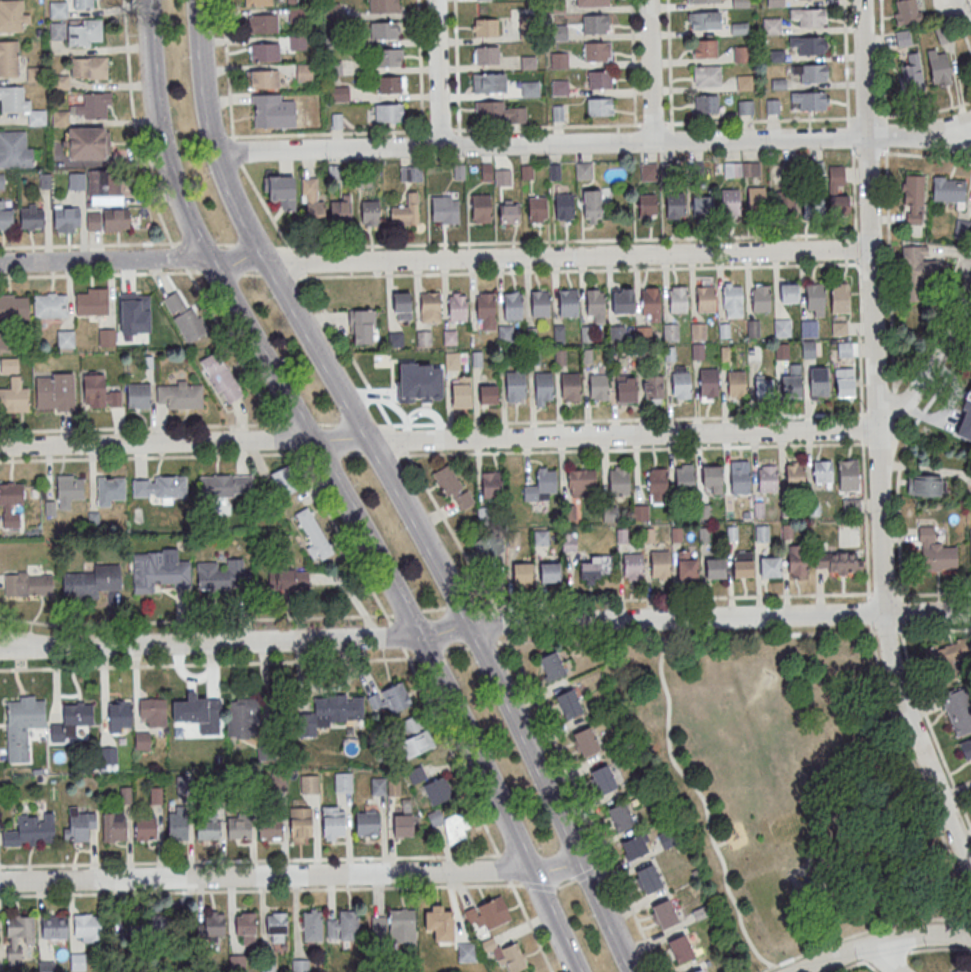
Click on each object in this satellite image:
building: (482, 0)
building: (703, 1)
road: (969, 2)
building: (257, 3)
building: (591, 3)
building: (775, 3)
building: (82, 5)
road: (958, 5)
building: (384, 6)
building: (906, 11)
building: (11, 16)
building: (808, 16)
building: (703, 20)
building: (262, 23)
building: (595, 23)
building: (771, 25)
building: (485, 27)
road: (960, 27)
building: (739, 28)
building: (383, 31)
building: (85, 33)
building: (903, 37)
building: (297, 42)
building: (808, 44)
building: (704, 48)
building: (263, 51)
building: (595, 51)
building: (741, 53)
building: (486, 54)
building: (389, 58)
building: (8, 59)
building: (558, 59)
road: (882, 62)
road: (846, 63)
road: (632, 65)
road: (670, 65)
building: (938, 66)
building: (88, 68)
road: (421, 68)
road: (457, 68)
road: (227, 70)
road: (650, 70)
building: (303, 72)
building: (810, 72)
road: (435, 73)
building: (32, 74)
building: (910, 74)
building: (705, 75)
building: (263, 78)
building: (600, 79)
building: (489, 82)
building: (744, 82)
building: (59, 83)
building: (389, 85)
building: (558, 87)
building: (530, 88)
building: (810, 99)
building: (17, 104)
building: (705, 104)
building: (92, 106)
building: (599, 106)
building: (772, 106)
building: (745, 107)
building: (265, 110)
road: (925, 112)
building: (388, 113)
building: (498, 113)
road: (867, 118)
road: (542, 128)
road: (886, 136)
road: (635, 137)
road: (672, 137)
road: (850, 137)
road: (221, 139)
road: (931, 140)
road: (460, 141)
road: (424, 142)
building: (86, 143)
road: (594, 143)
building: (14, 150)
road: (854, 152)
road: (237, 153)
road: (868, 153)
road: (925, 155)
building: (740, 169)
building: (814, 169)
building: (583, 170)
building: (459, 171)
building: (486, 171)
building: (648, 171)
building: (694, 171)
building: (410, 173)
building: (502, 177)
building: (1, 181)
building: (75, 181)
building: (105, 184)
building: (282, 188)
building: (948, 189)
building: (836, 192)
road: (854, 192)
building: (912, 198)
building: (757, 199)
building: (730, 201)
building: (784, 202)
building: (813, 204)
building: (564, 205)
building: (647, 205)
building: (675, 205)
building: (702, 205)
building: (480, 206)
building: (591, 206)
building: (444, 208)
building: (537, 208)
building: (405, 211)
building: (509, 211)
building: (340, 212)
building: (370, 212)
building: (315, 213)
building: (5, 214)
building: (31, 216)
building: (66, 218)
building: (107, 220)
road: (164, 228)
road: (865, 233)
road: (429, 243)
road: (856, 247)
road: (436, 259)
road: (866, 263)
road: (889, 271)
road: (429, 273)
building: (918, 274)
building: (789, 291)
building: (815, 295)
building: (732, 297)
building: (705, 298)
building: (760, 298)
building: (839, 298)
building: (624, 299)
building: (678, 299)
building: (650, 300)
building: (595, 301)
building: (568, 302)
building: (402, 303)
building: (540, 303)
building: (430, 304)
building: (91, 305)
building: (50, 306)
building: (512, 306)
building: (457, 307)
building: (14, 308)
building: (486, 309)
building: (184, 318)
road: (935, 323)
building: (362, 326)
building: (752, 327)
building: (782, 327)
building: (807, 327)
building: (839, 328)
building: (696, 330)
building: (724, 330)
building: (669, 331)
building: (558, 332)
building: (505, 333)
building: (586, 333)
building: (615, 333)
building: (531, 334)
building: (423, 337)
building: (448, 337)
building: (107, 338)
road: (859, 338)
building: (395, 339)
building: (65, 340)
building: (808, 349)
building: (844, 349)
building: (781, 350)
building: (697, 351)
building: (727, 353)
building: (560, 356)
building: (587, 356)
building: (504, 357)
building: (533, 357)
road: (934, 358)
building: (423, 359)
building: (477, 359)
building: (452, 360)
building: (7, 366)
building: (221, 378)
building: (708, 380)
building: (516, 382)
building: (819, 382)
building: (844, 382)
building: (736, 383)
building: (570, 384)
building: (681, 384)
building: (543, 385)
building: (598, 385)
building: (791, 386)
building: (763, 387)
building: (651, 388)
road: (372, 389)
building: (625, 389)
building: (434, 390)
building: (54, 392)
building: (98, 393)
building: (488, 393)
building: (461, 394)
building: (138, 396)
building: (179, 396)
building: (14, 397)
building: (967, 402)
road: (894, 403)
road: (873, 412)
road: (622, 419)
road: (303, 423)
road: (327, 423)
road: (357, 423)
road: (143, 426)
road: (861, 428)
road: (293, 437)
road: (440, 439)
road: (882, 440)
road: (874, 442)
road: (633, 448)
road: (326, 453)
road: (353, 453)
road: (381, 454)
road: (153, 457)
road: (902, 460)
building: (822, 472)
building: (794, 473)
building: (847, 474)
building: (683, 475)
building: (711, 477)
building: (767, 477)
building: (739, 478)
building: (283, 481)
building: (581, 483)
building: (617, 483)
building: (490, 485)
building: (657, 485)
building: (926, 485)
building: (225, 486)
building: (451, 486)
building: (541, 486)
building: (159, 487)
road: (396, 490)
building: (68, 491)
building: (109, 491)
road: (337, 491)
building: (10, 504)
building: (640, 513)
building: (569, 514)
building: (312, 534)
building: (761, 534)
road: (341, 537)
building: (540, 537)
building: (568, 542)
building: (488, 545)
building: (970, 550)
building: (935, 553)
building: (797, 560)
building: (837, 561)
building: (659, 564)
building: (742, 564)
building: (686, 565)
building: (632, 566)
building: (714, 566)
building: (769, 566)
building: (595, 567)
building: (159, 569)
building: (549, 572)
building: (522, 573)
building: (220, 575)
building: (288, 580)
building: (91, 582)
building: (28, 584)
road: (930, 592)
road: (881, 593)
road: (673, 599)
road: (459, 606)
road: (433, 608)
road: (407, 612)
road: (902, 614)
road: (196, 621)
road: (502, 624)
road: (485, 628)
road: (670, 628)
road: (935, 629)
road: (888, 630)
road: (396, 634)
road: (687, 637)
road: (481, 643)
road: (456, 650)
road: (431, 656)
building: (944, 659)
road: (208, 664)
building: (551, 664)
road: (881, 681)
building: (390, 698)
building: (568, 702)
building: (335, 709)
building: (957, 709)
building: (196, 710)
building: (152, 711)
building: (119, 716)
building: (241, 718)
building: (72, 720)
building: (410, 724)
building: (22, 726)
road: (931, 727)
building: (142, 740)
building: (586, 740)
building: (415, 743)
building: (968, 748)
building: (109, 755)
building: (603, 778)
building: (343, 781)
building: (378, 786)
park: (786, 788)
building: (437, 790)
road: (703, 801)
road: (584, 802)
road: (477, 809)
building: (620, 816)
building: (79, 823)
building: (332, 823)
building: (367, 823)
building: (300, 824)
building: (403, 824)
building: (113, 825)
building: (450, 825)
building: (177, 826)
building: (238, 826)
park: (796, 826)
building: (208, 827)
building: (269, 827)
building: (35, 828)
building: (145, 828)
road: (722, 844)
building: (635, 845)
road: (260, 859)
road: (554, 866)
road: (606, 866)
road: (586, 872)
road: (263, 875)
building: (649, 878)
road: (565, 883)
road: (539, 886)
road: (260, 889)
building: (665, 913)
building: (484, 915)
building: (154, 923)
building: (438, 923)
building: (54, 925)
building: (214, 925)
building: (378, 925)
building: (402, 925)
building: (311, 926)
building: (343, 926)
building: (87, 927)
building: (245, 927)
building: (276, 928)
road: (865, 933)
building: (18, 936)
road: (884, 941)
road: (0, 948)
building: (681, 948)
road: (938, 948)
building: (465, 953)
building: (506, 956)
road: (885, 956)
road: (880, 959)
building: (78, 962)
road: (850, 967)
road: (869, 967)
road: (773, 968)
building: (963, 968)
building: (699, 970)

